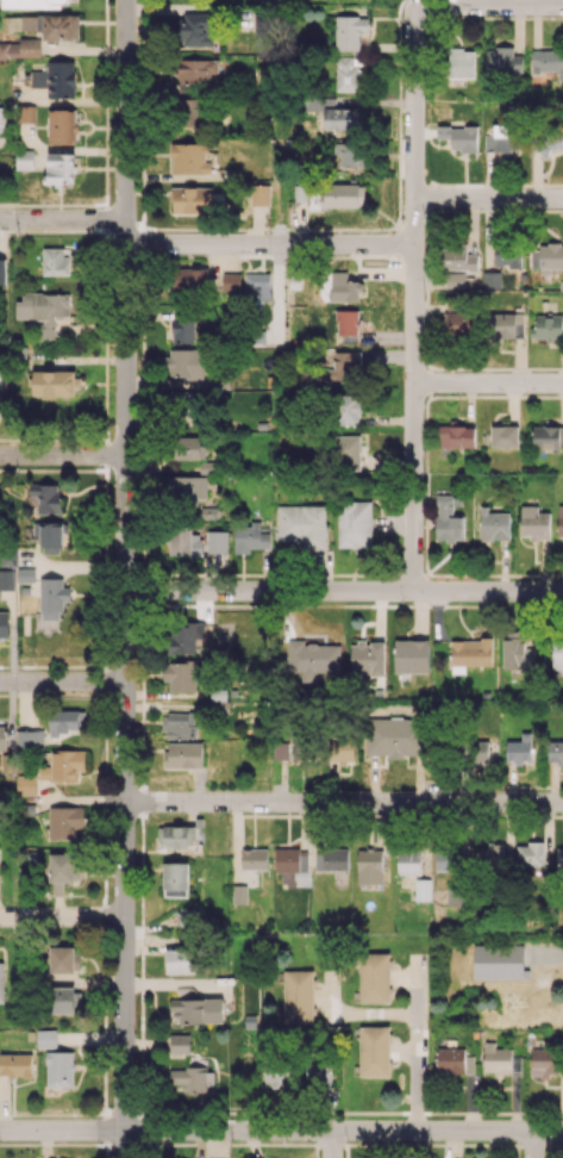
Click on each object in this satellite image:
building: (36, 4)
road: (490, 6)
building: (24, 23)
building: (60, 26)
building: (195, 29)
building: (349, 31)
building: (30, 46)
building: (8, 49)
building: (502, 61)
building: (546, 61)
building: (461, 63)
building: (196, 70)
building: (348, 74)
building: (55, 79)
building: (193, 112)
building: (26, 113)
building: (343, 118)
building: (2, 119)
building: (62, 126)
building: (458, 137)
building: (500, 138)
building: (352, 154)
building: (189, 157)
building: (24, 158)
building: (61, 170)
building: (259, 194)
building: (343, 194)
road: (488, 198)
building: (192, 200)
road: (63, 219)
road: (269, 244)
building: (507, 255)
building: (546, 257)
building: (457, 259)
building: (56, 260)
building: (2, 270)
building: (188, 278)
building: (490, 279)
building: (231, 282)
building: (256, 286)
building: (343, 287)
road: (414, 299)
building: (43, 310)
building: (346, 322)
building: (459, 324)
building: (505, 324)
building: (546, 326)
building: (183, 330)
building: (184, 367)
building: (342, 367)
building: (55, 382)
road: (488, 382)
building: (348, 409)
building: (503, 435)
building: (548, 436)
building: (455, 437)
building: (186, 447)
building: (346, 450)
road: (62, 455)
building: (207, 467)
building: (186, 486)
building: (48, 497)
building: (448, 518)
building: (559, 522)
building: (354, 523)
building: (534, 523)
building: (301, 524)
building: (494, 524)
building: (251, 536)
building: (52, 537)
building: (186, 540)
building: (217, 541)
building: (25, 574)
road: (125, 578)
building: (6, 579)
road: (344, 591)
building: (51, 600)
building: (4, 624)
building: (469, 653)
building: (517, 653)
building: (557, 654)
building: (411, 655)
building: (312, 656)
building: (367, 658)
building: (180, 675)
road: (62, 681)
building: (64, 722)
building: (179, 724)
building: (2, 736)
building: (392, 736)
building: (29, 739)
building: (519, 748)
building: (288, 749)
building: (339, 749)
building: (555, 751)
building: (481, 752)
building: (183, 755)
building: (63, 765)
building: (25, 784)
road: (344, 802)
building: (65, 822)
building: (177, 835)
building: (530, 853)
building: (450, 854)
building: (490, 855)
building: (254, 858)
building: (559, 858)
building: (287, 859)
building: (331, 859)
building: (408, 863)
building: (369, 866)
building: (63, 870)
building: (175, 879)
building: (423, 889)
building: (239, 894)
road: (62, 916)
building: (188, 917)
road: (552, 951)
building: (63, 959)
building: (180, 959)
building: (374, 977)
building: (1, 980)
building: (298, 996)
building: (62, 1000)
building: (198, 1009)
road: (354, 1014)
building: (46, 1038)
building: (179, 1044)
road: (417, 1045)
building: (374, 1051)
building: (496, 1059)
building: (453, 1060)
building: (545, 1063)
building: (15, 1064)
building: (60, 1067)
building: (318, 1075)
building: (274, 1076)
building: (192, 1078)
road: (281, 1131)
road: (331, 1144)
road: (533, 1144)

